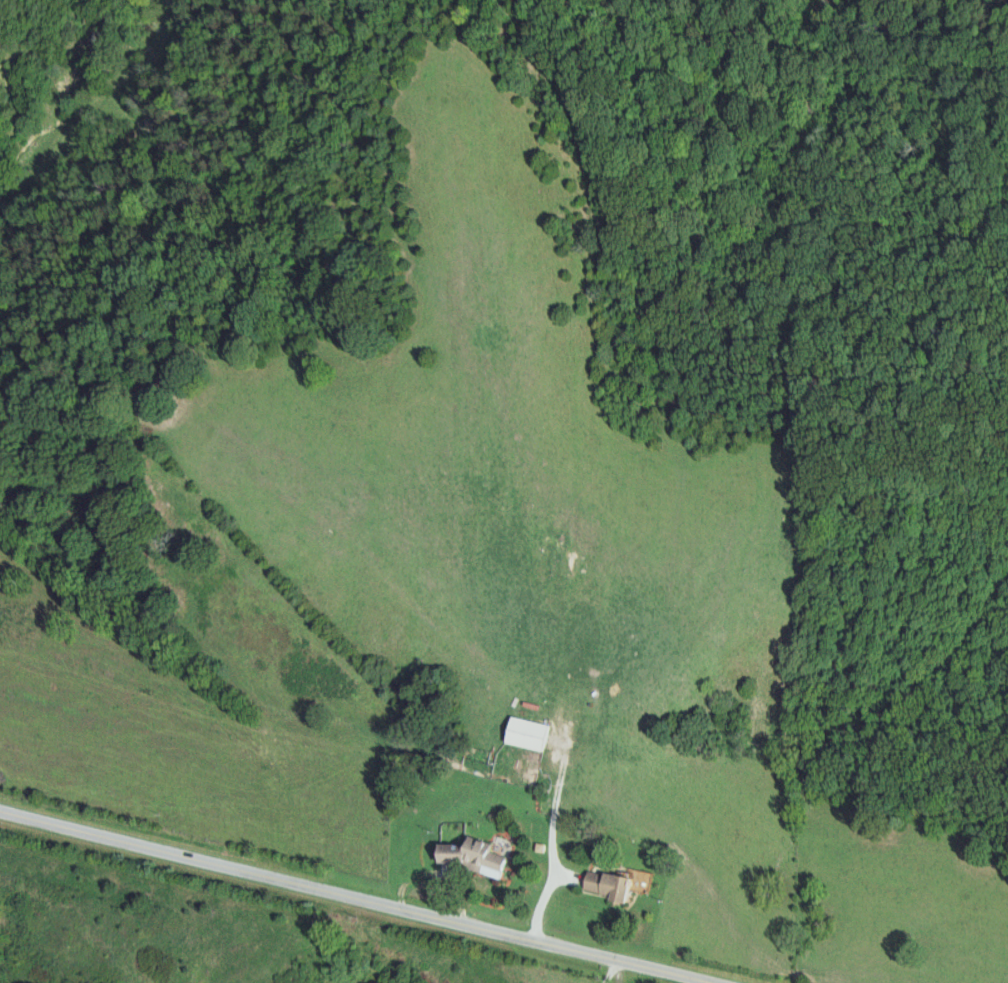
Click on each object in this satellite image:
building: (528, 734)
road: (554, 850)
building: (477, 856)
road: (423, 882)
building: (617, 885)
road: (349, 902)
road: (612, 973)

